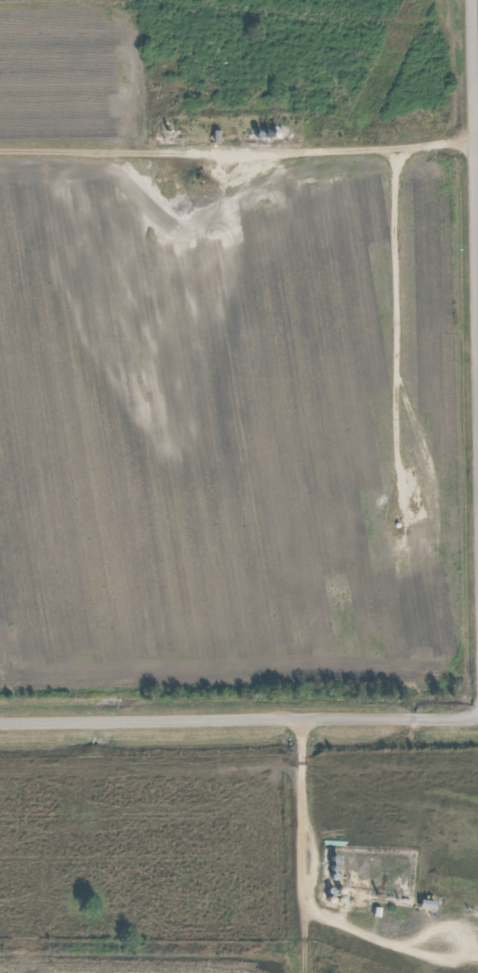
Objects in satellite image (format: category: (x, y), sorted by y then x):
road: (475, 147)
road: (238, 715)
road: (303, 844)

